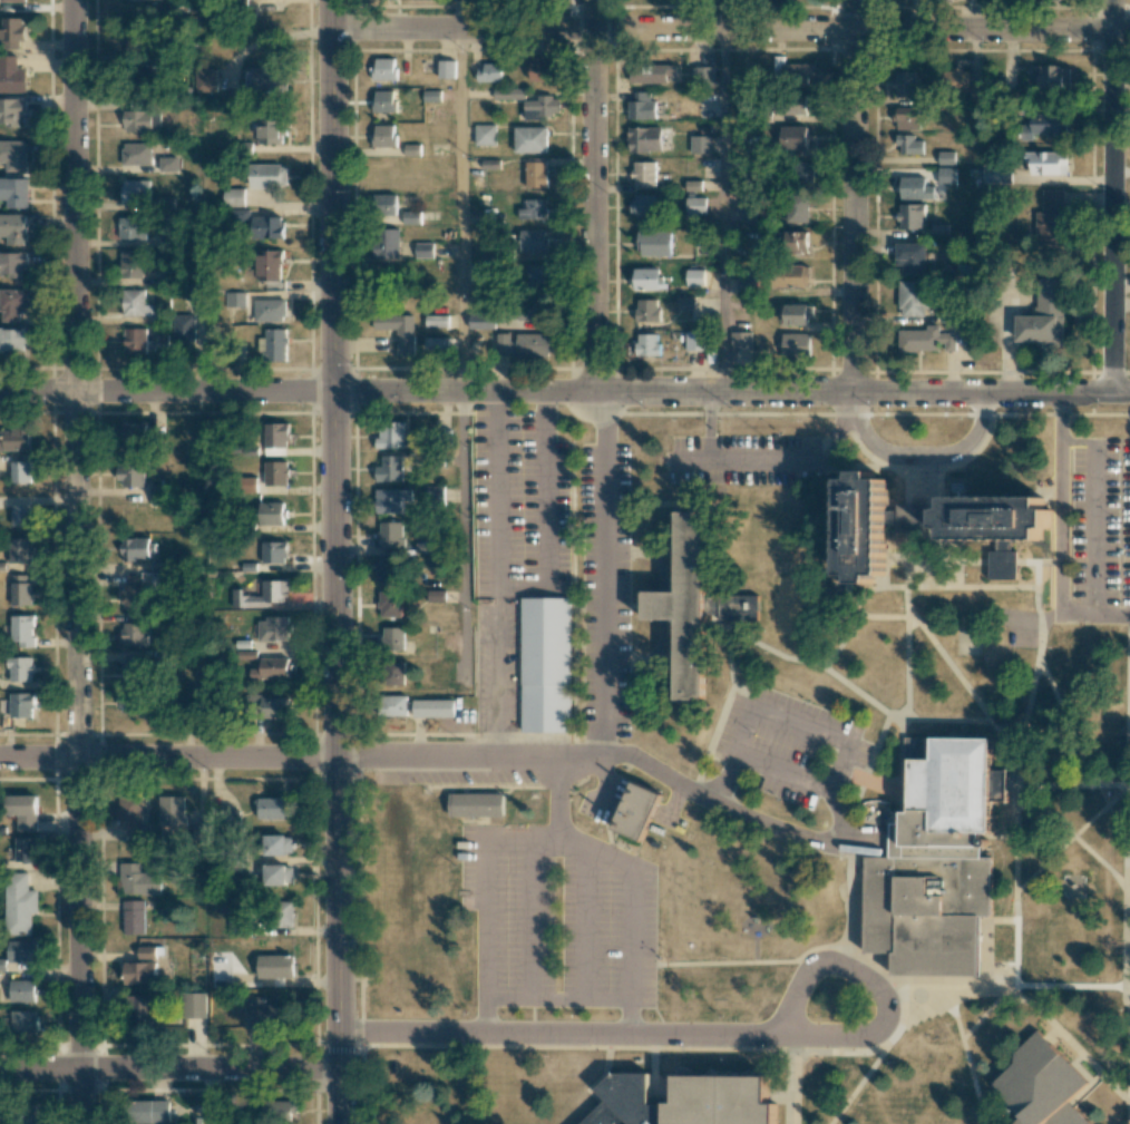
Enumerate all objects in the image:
building: (13, 0)
road: (731, 29)
building: (12, 32)
building: (136, 43)
building: (383, 69)
building: (447, 69)
building: (542, 70)
building: (791, 71)
building: (489, 74)
building: (651, 74)
building: (704, 74)
building: (12, 76)
building: (1051, 76)
building: (265, 79)
building: (206, 80)
building: (955, 82)
building: (905, 84)
building: (508, 94)
building: (976, 94)
building: (383, 101)
building: (793, 104)
building: (542, 107)
building: (641, 107)
building: (11, 110)
building: (908, 118)
building: (142, 121)
building: (1044, 126)
building: (271, 131)
building: (485, 135)
building: (384, 136)
building: (793, 137)
building: (529, 139)
building: (644, 139)
building: (700, 144)
building: (909, 145)
building: (136, 154)
building: (13, 155)
building: (946, 157)
building: (1048, 163)
building: (167, 164)
building: (802, 173)
building: (536, 174)
building: (643, 174)
building: (997, 174)
building: (267, 176)
building: (946, 176)
building: (915, 188)
building: (135, 190)
building: (14, 192)
road: (858, 195)
building: (233, 196)
road: (598, 196)
road: (1112, 196)
building: (645, 205)
building: (384, 206)
building: (694, 206)
building: (798, 208)
building: (533, 209)
road: (461, 212)
road: (723, 212)
building: (744, 213)
building: (910, 216)
building: (412, 217)
building: (1050, 221)
building: (267, 227)
building: (13, 228)
building: (130, 228)
building: (164, 236)
building: (532, 241)
building: (795, 242)
building: (654, 243)
building: (387, 244)
building: (423, 250)
building: (912, 258)
building: (12, 264)
building: (130, 265)
building: (270, 265)
building: (538, 276)
building: (793, 276)
building: (694, 277)
building: (646, 278)
building: (747, 282)
building: (195, 294)
building: (912, 297)
building: (236, 300)
building: (685, 302)
building: (11, 304)
building: (136, 304)
building: (533, 310)
building: (646, 310)
building: (270, 311)
building: (797, 314)
building: (436, 321)
building: (481, 321)
building: (1041, 321)
building: (183, 328)
building: (397, 330)
building: (12, 340)
building: (135, 341)
building: (694, 341)
building: (741, 341)
building: (792, 342)
building: (646, 344)
building: (926, 344)
building: (272, 345)
building: (522, 345)
road: (333, 381)
road: (867, 392)
road: (469, 393)
road: (166, 395)
road: (709, 427)
building: (134, 436)
building: (390, 436)
road: (836, 438)
building: (14, 439)
building: (275, 439)
road: (917, 456)
road: (749, 460)
parking lot: (746, 461)
building: (390, 469)
building: (21, 472)
building: (275, 473)
building: (131, 475)
road: (496, 480)
building: (158, 495)
building: (391, 500)
road: (1095, 509)
building: (271, 514)
building: (21, 515)
road: (932, 528)
parking lot: (1091, 528)
building: (861, 529)
building: (993, 530)
building: (390, 535)
road: (1060, 537)
building: (135, 548)
building: (20, 550)
building: (274, 553)
parking lot: (547, 560)
road: (77, 561)
road: (958, 564)
road: (1036, 566)
building: (387, 568)
road: (604, 570)
building: (21, 590)
building: (133, 590)
building: (274, 592)
building: (435, 596)
building: (389, 604)
park: (793, 605)
road: (860, 610)
building: (693, 615)
building: (273, 628)
building: (134, 629)
building: (22, 631)
building: (392, 638)
road: (842, 639)
road: (796, 661)
building: (544, 665)
building: (273, 667)
building: (21, 668)
building: (437, 671)
building: (393, 673)
building: (131, 674)
road: (906, 694)
building: (130, 702)
building: (22, 704)
building: (274, 707)
building: (413, 707)
road: (1027, 707)
road: (780, 713)
road: (1064, 732)
parking lot: (788, 743)
road: (602, 747)
road: (167, 761)
road: (870, 764)
road: (723, 776)
road: (1074, 785)
building: (951, 801)
road: (555, 802)
building: (474, 807)
building: (272, 808)
building: (23, 811)
building: (172, 811)
building: (636, 812)
building: (130, 813)
road: (1072, 838)
road: (559, 841)
building: (276, 844)
building: (25, 849)
building: (279, 874)
building: (139, 880)
road: (1016, 887)
building: (19, 903)
building: (283, 913)
building: (927, 915)
building: (133, 917)
parking lot: (559, 918)
road: (529, 920)
road: (583, 923)
road: (1129, 936)
road: (481, 938)
road: (337, 942)
building: (21, 951)
building: (147, 951)
road: (630, 955)
road: (797, 960)
building: (275, 966)
building: (137, 972)
road: (883, 975)
building: (22, 990)
road: (965, 993)
road: (923, 998)
road: (555, 1000)
building: (193, 1005)
building: (140, 1007)
building: (263, 1014)
building: (23, 1022)
road: (1051, 1035)
road: (705, 1038)
road: (1069, 1042)
road: (1129, 1057)
road: (168, 1068)
building: (1041, 1085)
road: (796, 1088)
road: (207, 1096)
building: (622, 1101)
building: (721, 1101)
road: (1129, 1103)
building: (279, 1108)
building: (150, 1112)

